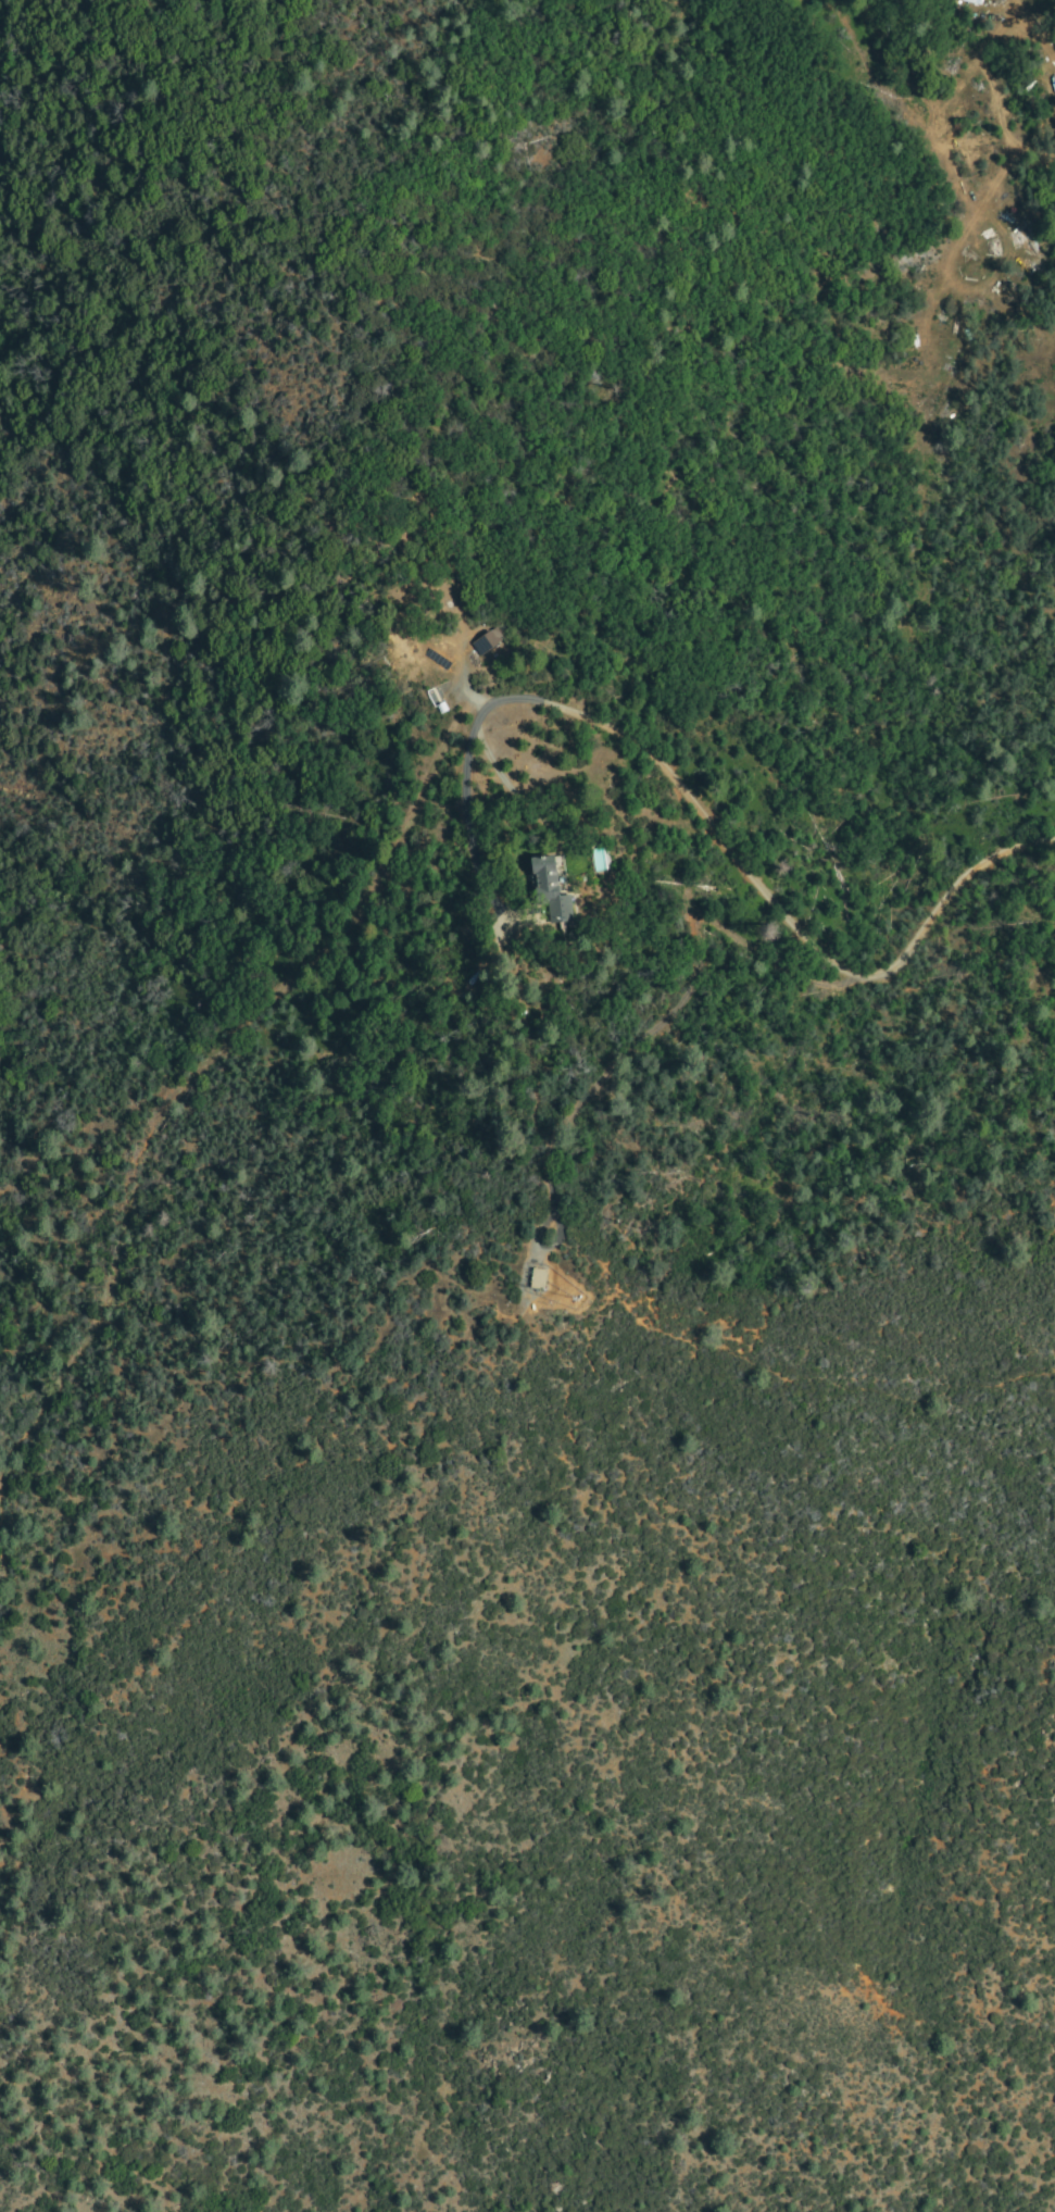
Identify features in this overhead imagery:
building: (489, 642)
building: (553, 891)
road: (793, 936)
road: (233, 1027)
building: (539, 1279)
building: (563, 1295)

